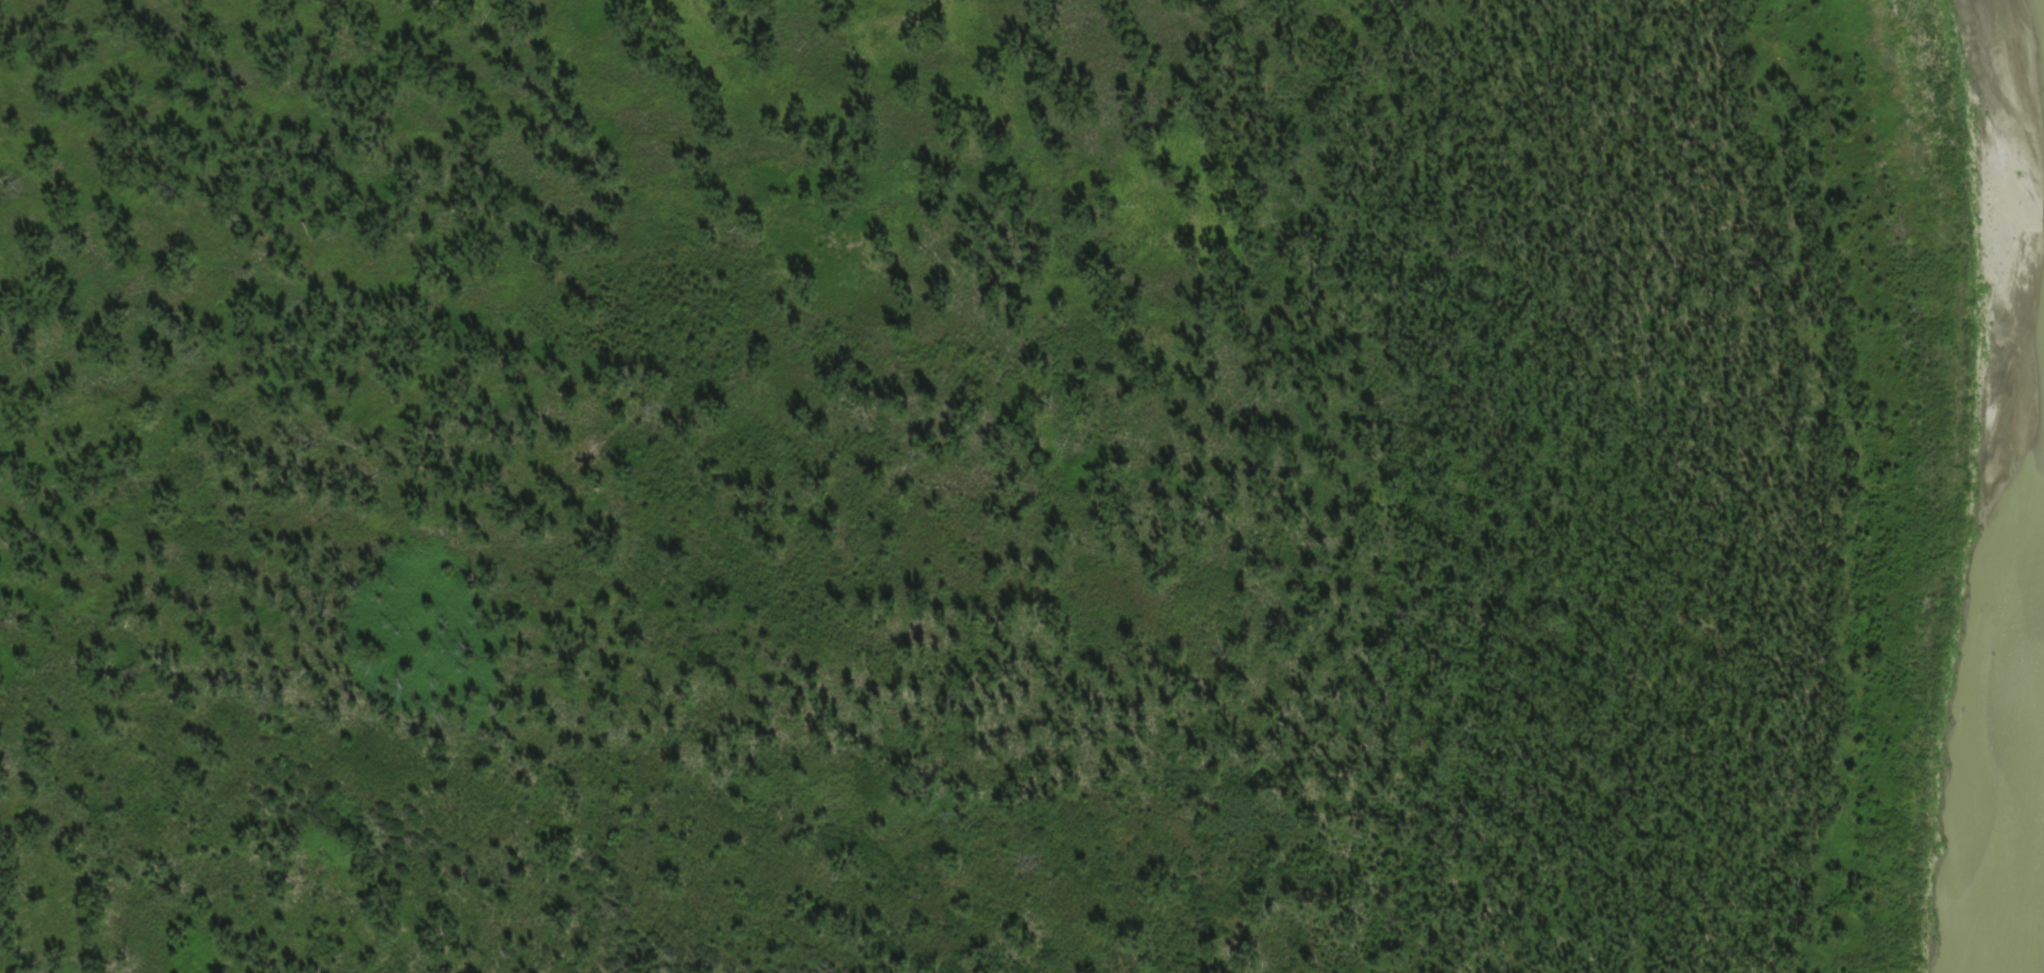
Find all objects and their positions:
river: (2018, 152)
river: (2034, 929)

